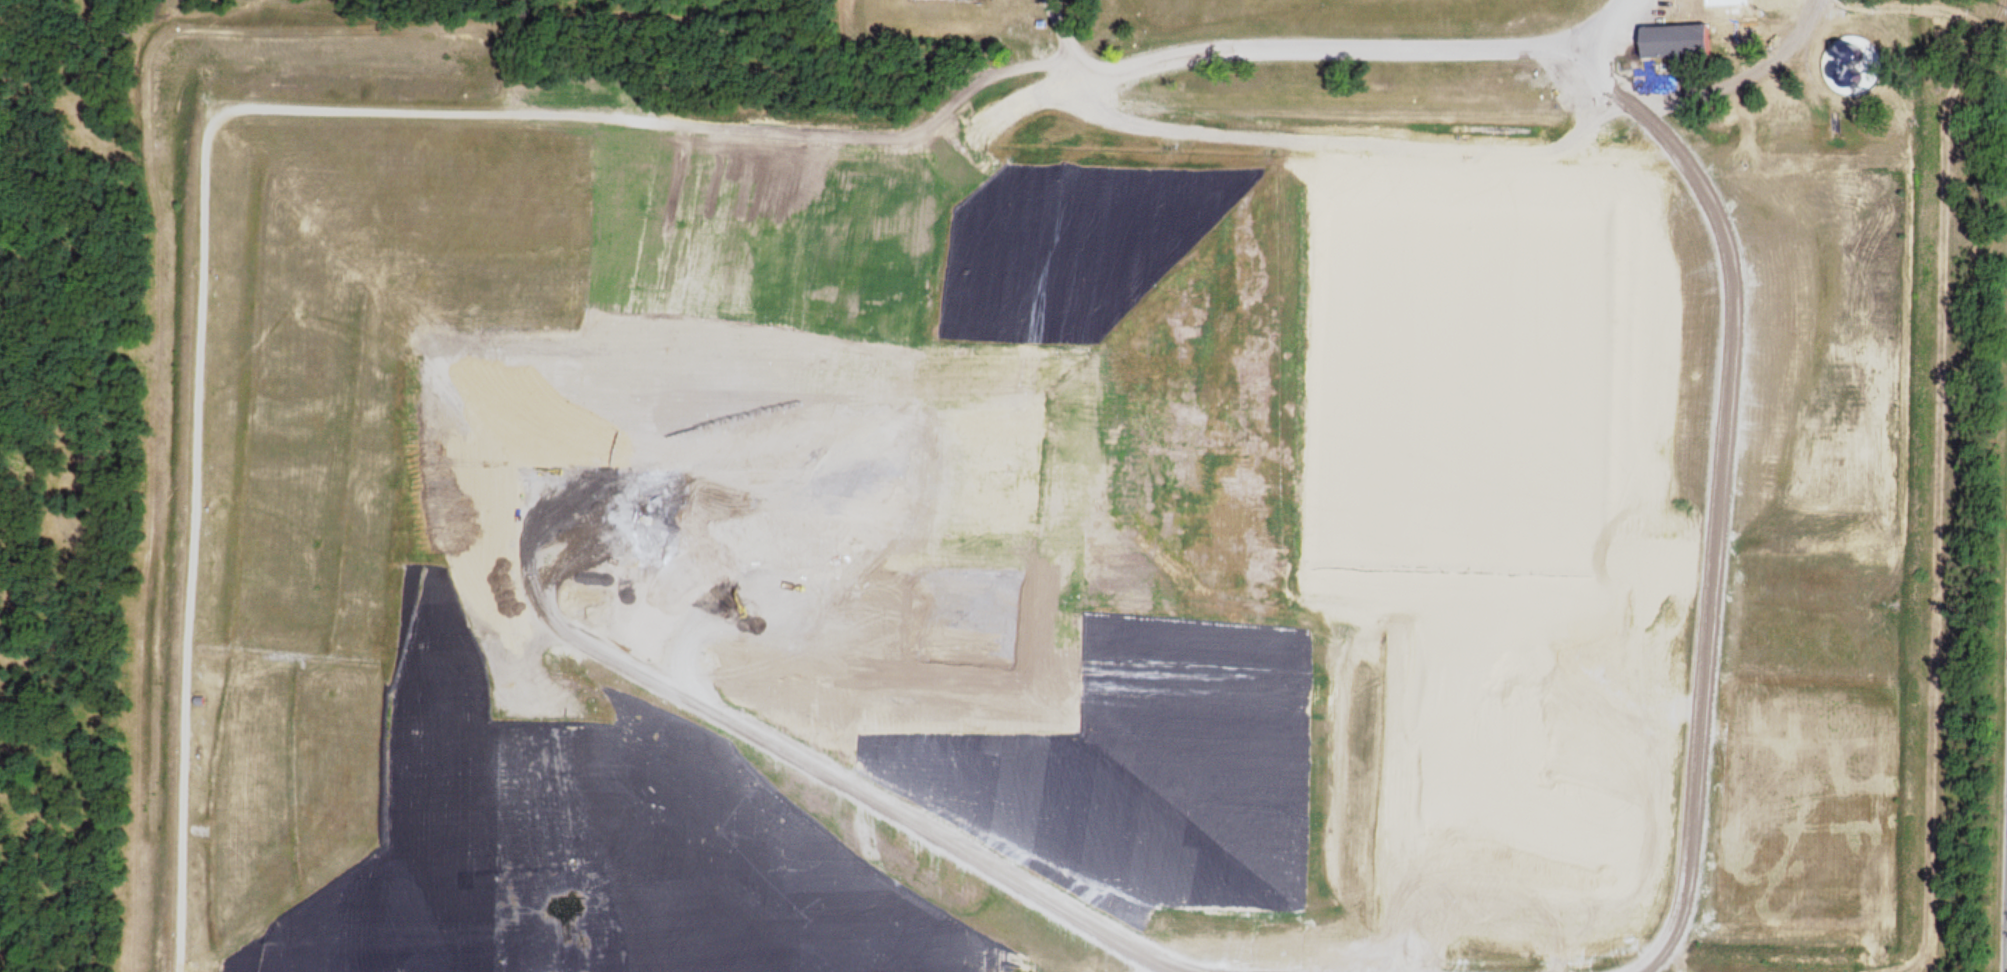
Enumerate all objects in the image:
building: (1672, 35)
road: (1061, 41)
road: (1740, 79)
road: (225, 111)
road: (890, 227)
landfill: (1054, 485)
road: (1715, 486)
road: (1113, 971)

